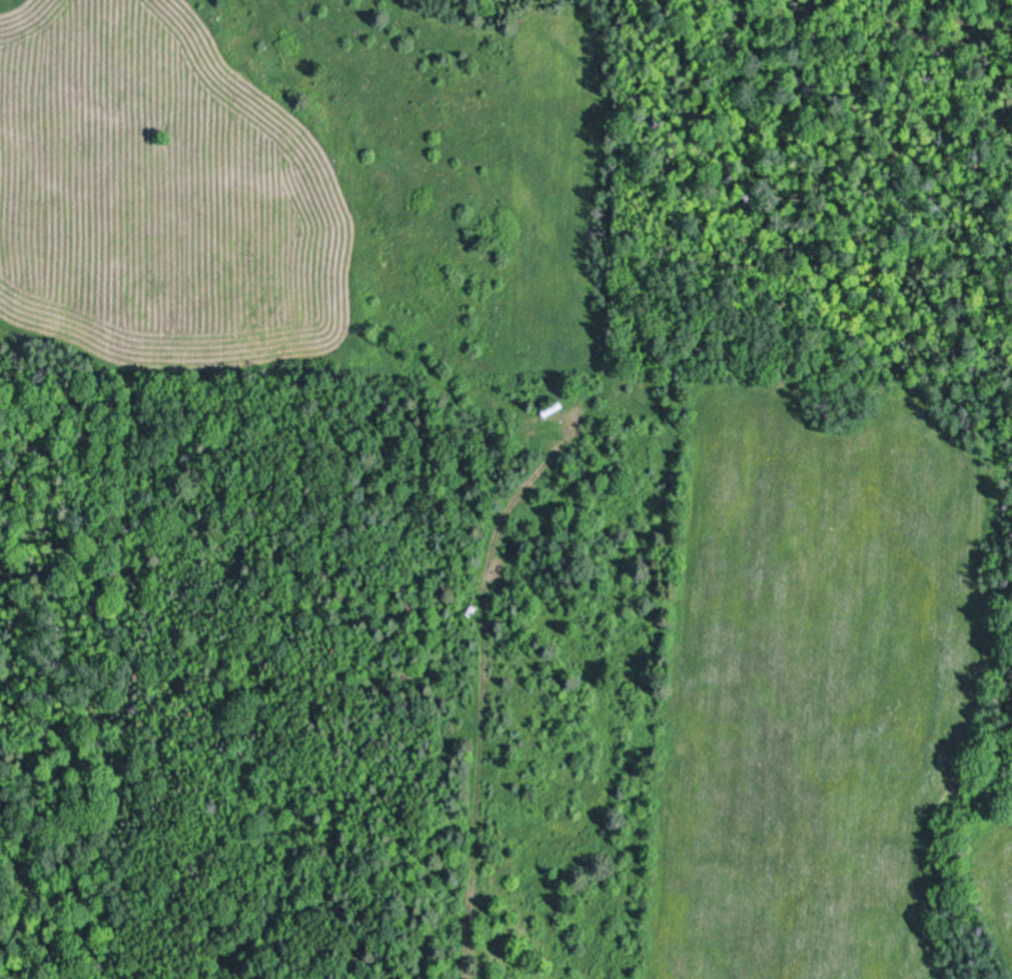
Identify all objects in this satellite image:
building: (554, 407)

